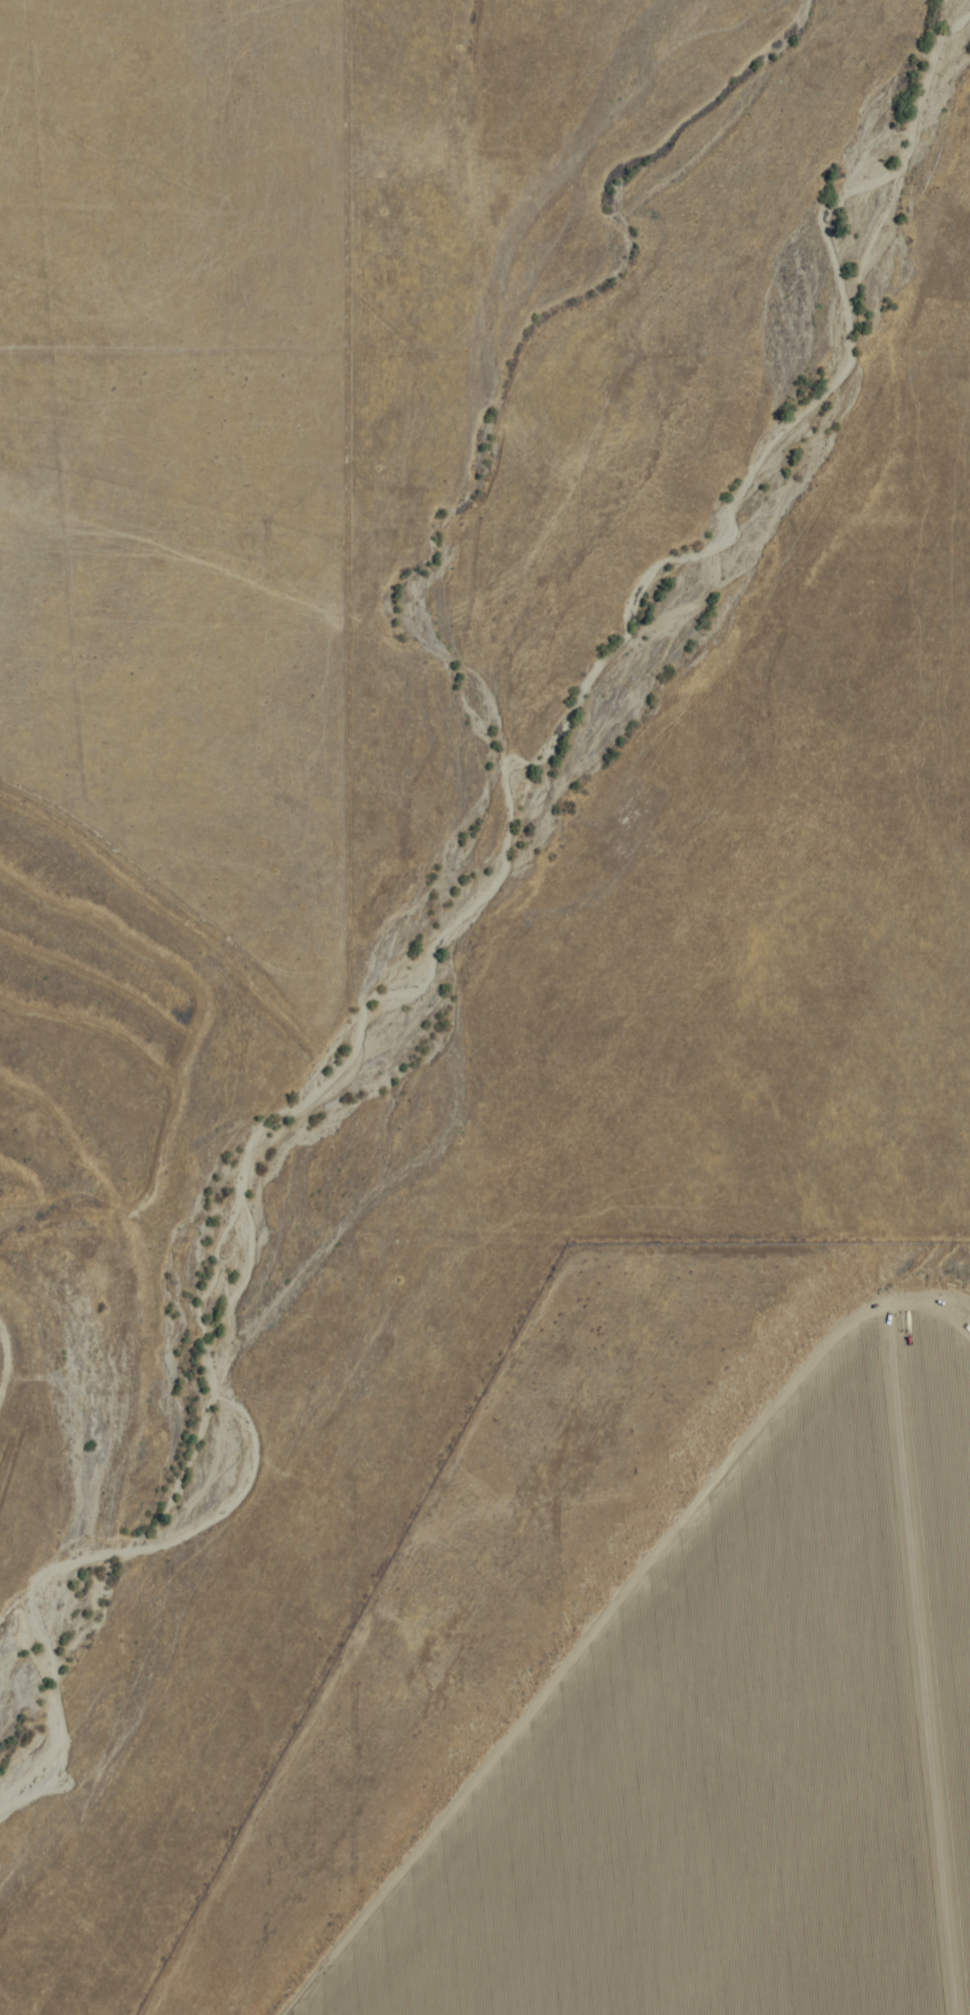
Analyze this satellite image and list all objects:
crop: (692, 1849)

